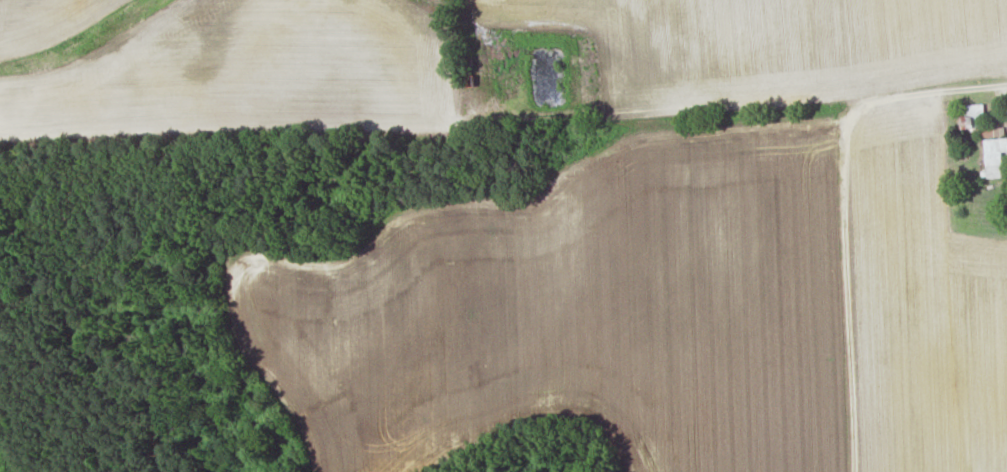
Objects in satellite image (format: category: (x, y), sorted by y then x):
road: (965, 88)
building: (995, 157)

